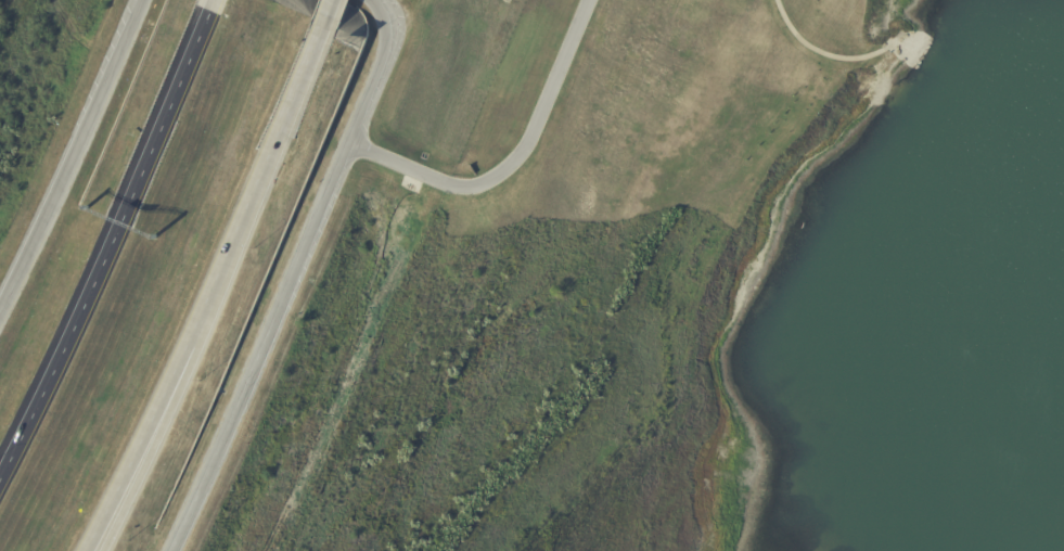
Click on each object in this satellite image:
road: (339, 13)
road: (831, 48)
road: (74, 156)
road: (512, 162)
road: (113, 240)
road: (292, 277)
road: (211, 290)
park: (683, 298)
road: (129, 490)

